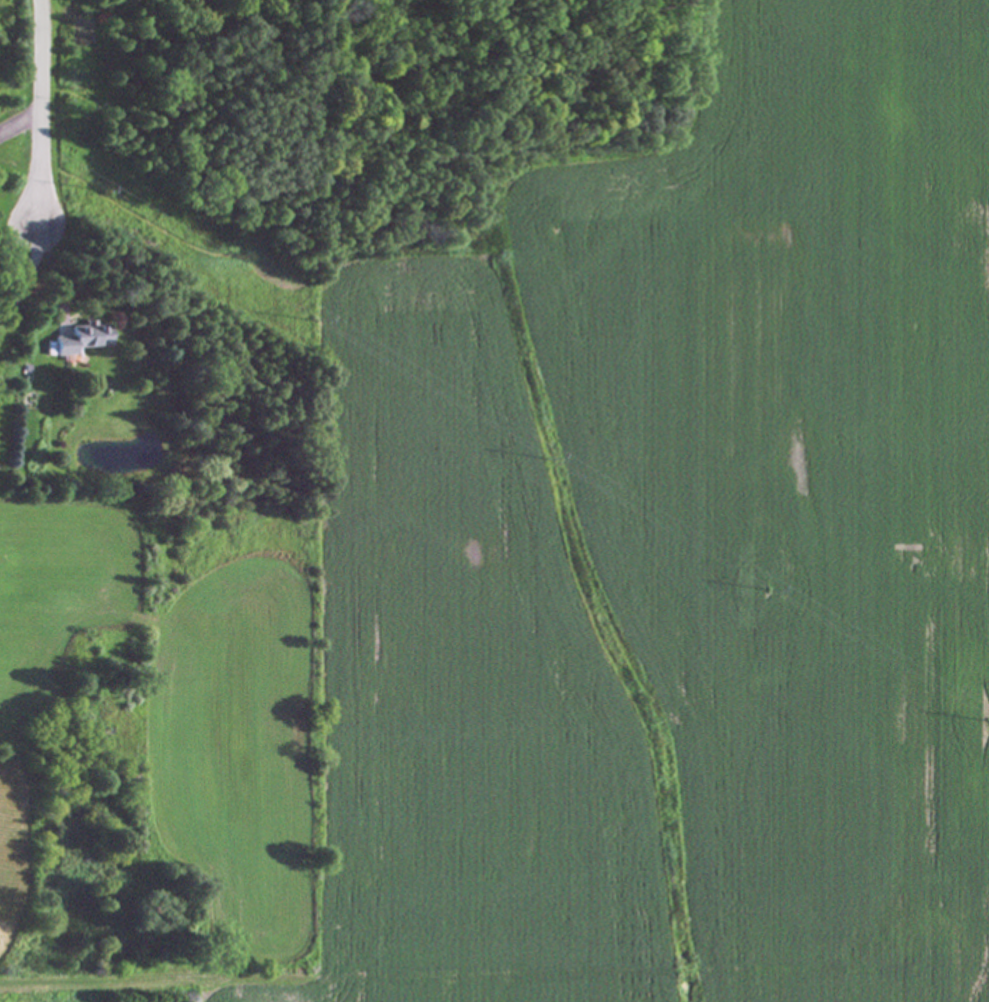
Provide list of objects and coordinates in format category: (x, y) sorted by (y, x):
road: (44, 107)
building: (83, 339)

